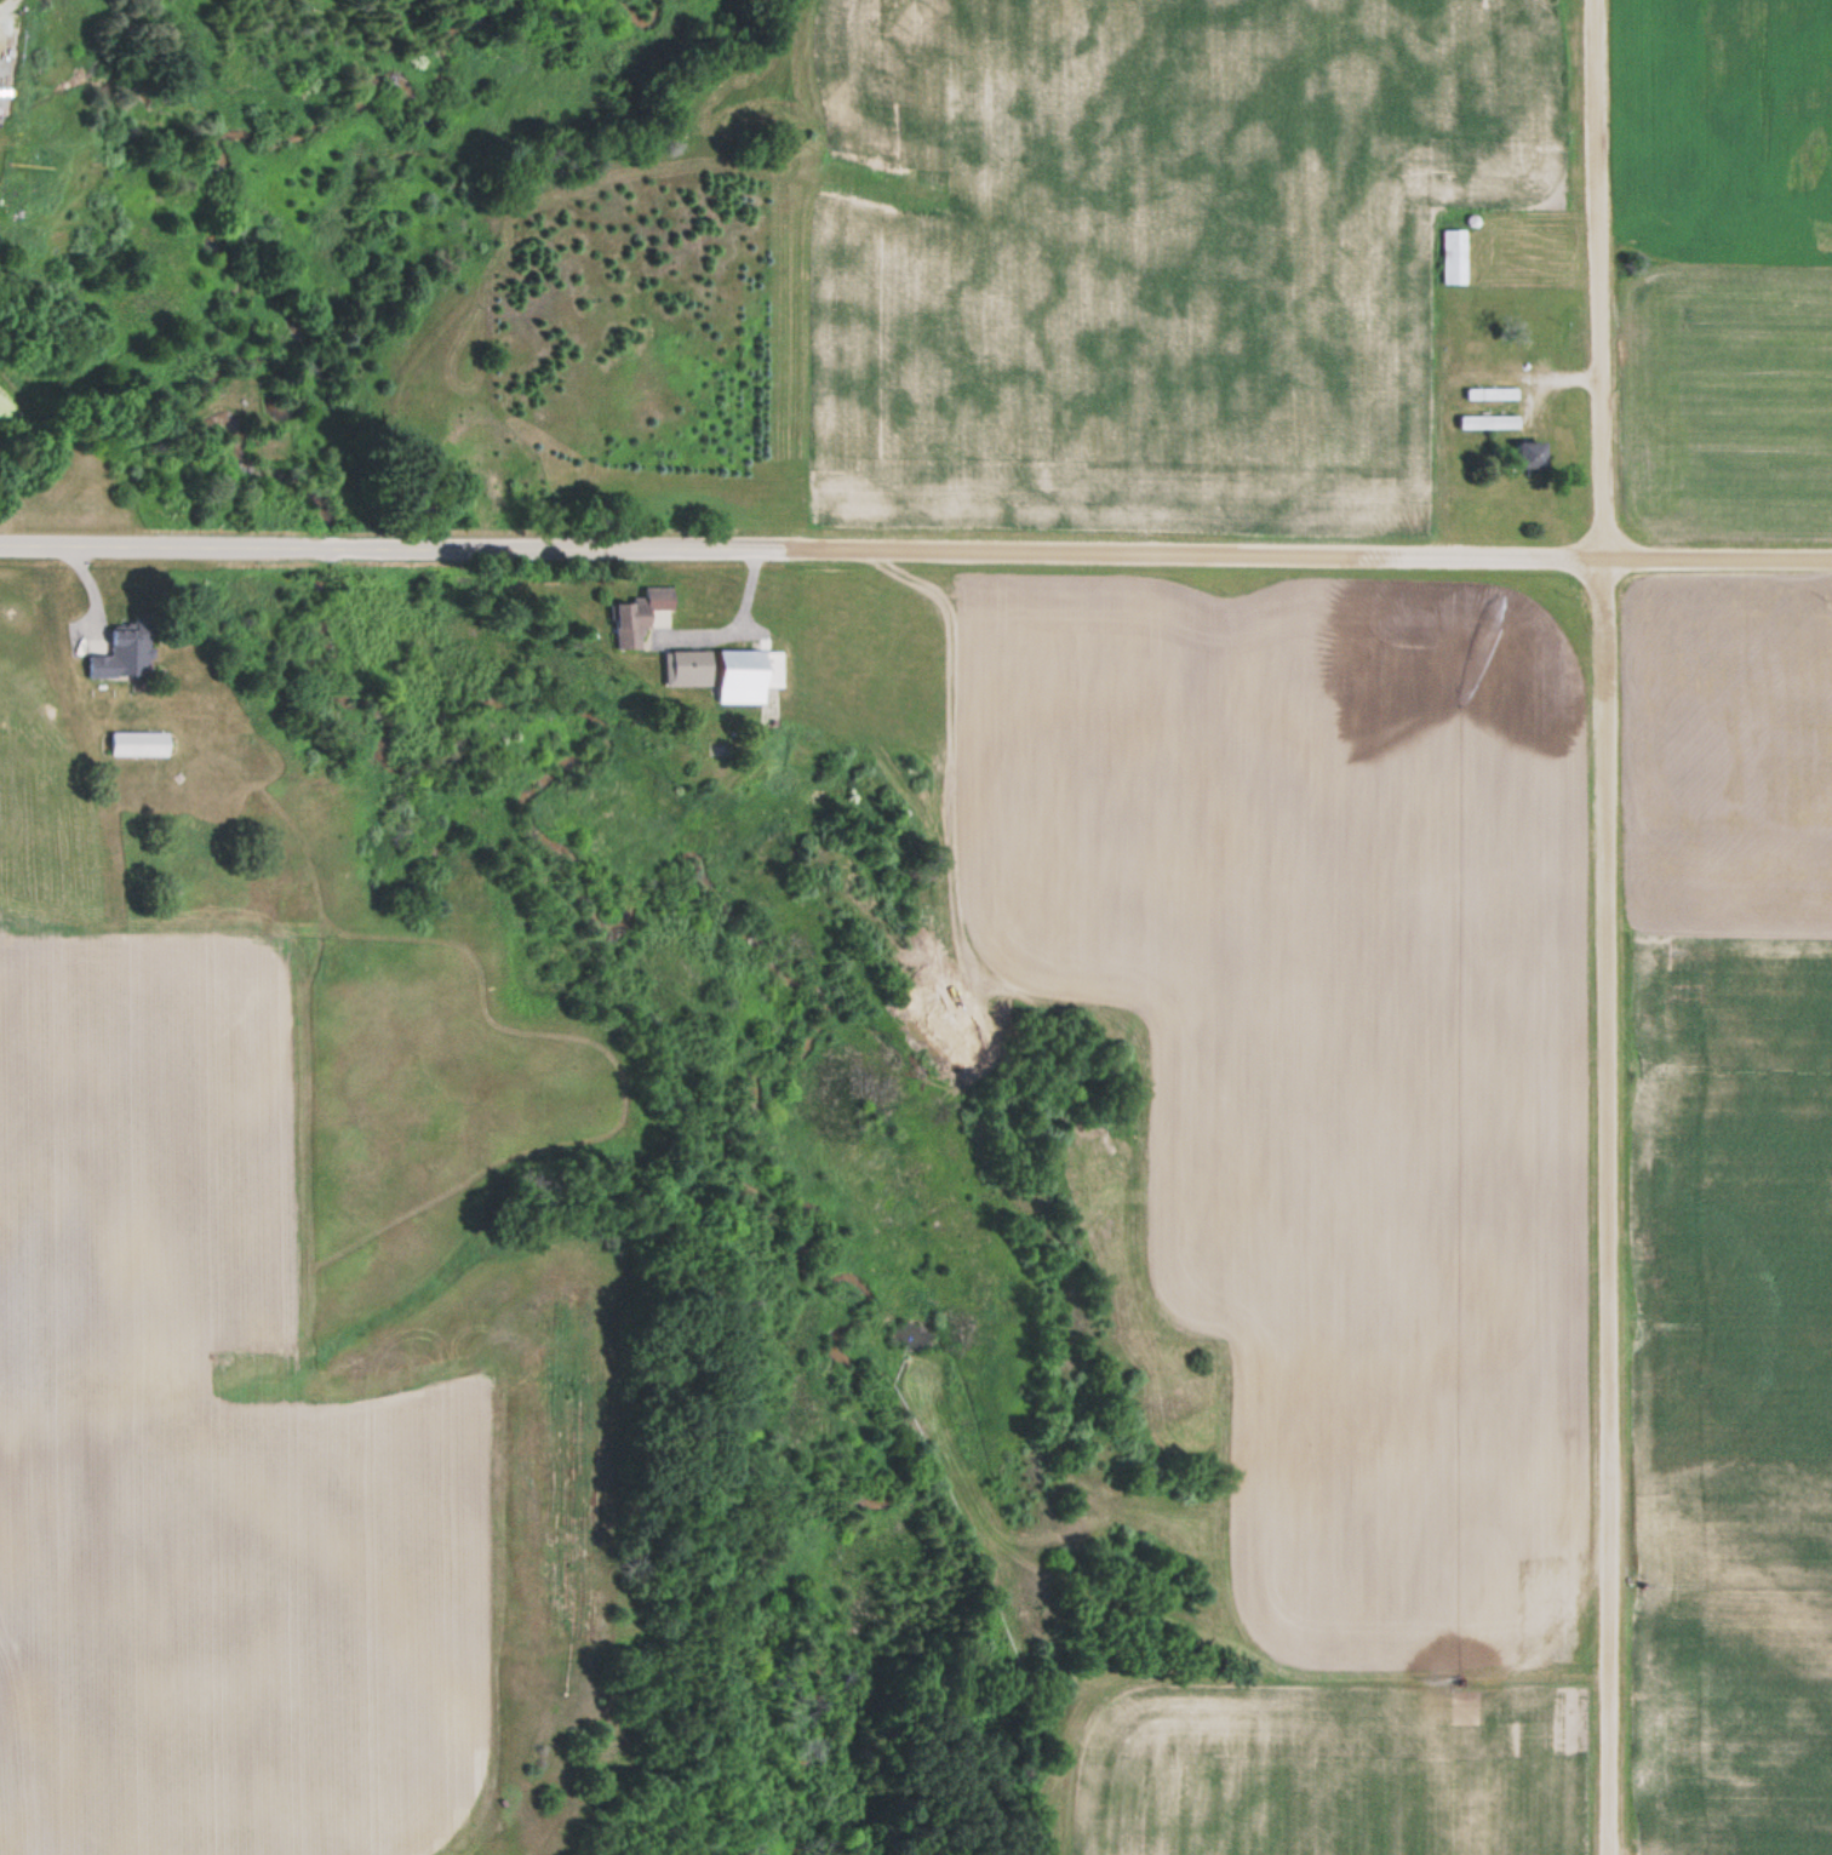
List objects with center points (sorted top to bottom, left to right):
building: (1453, 256)
building: (1490, 393)
building: (1488, 422)
building: (1530, 453)
road: (915, 549)
building: (637, 616)
building: (126, 658)
building: (686, 668)
building: (748, 675)
building: (141, 744)
road: (1599, 927)

